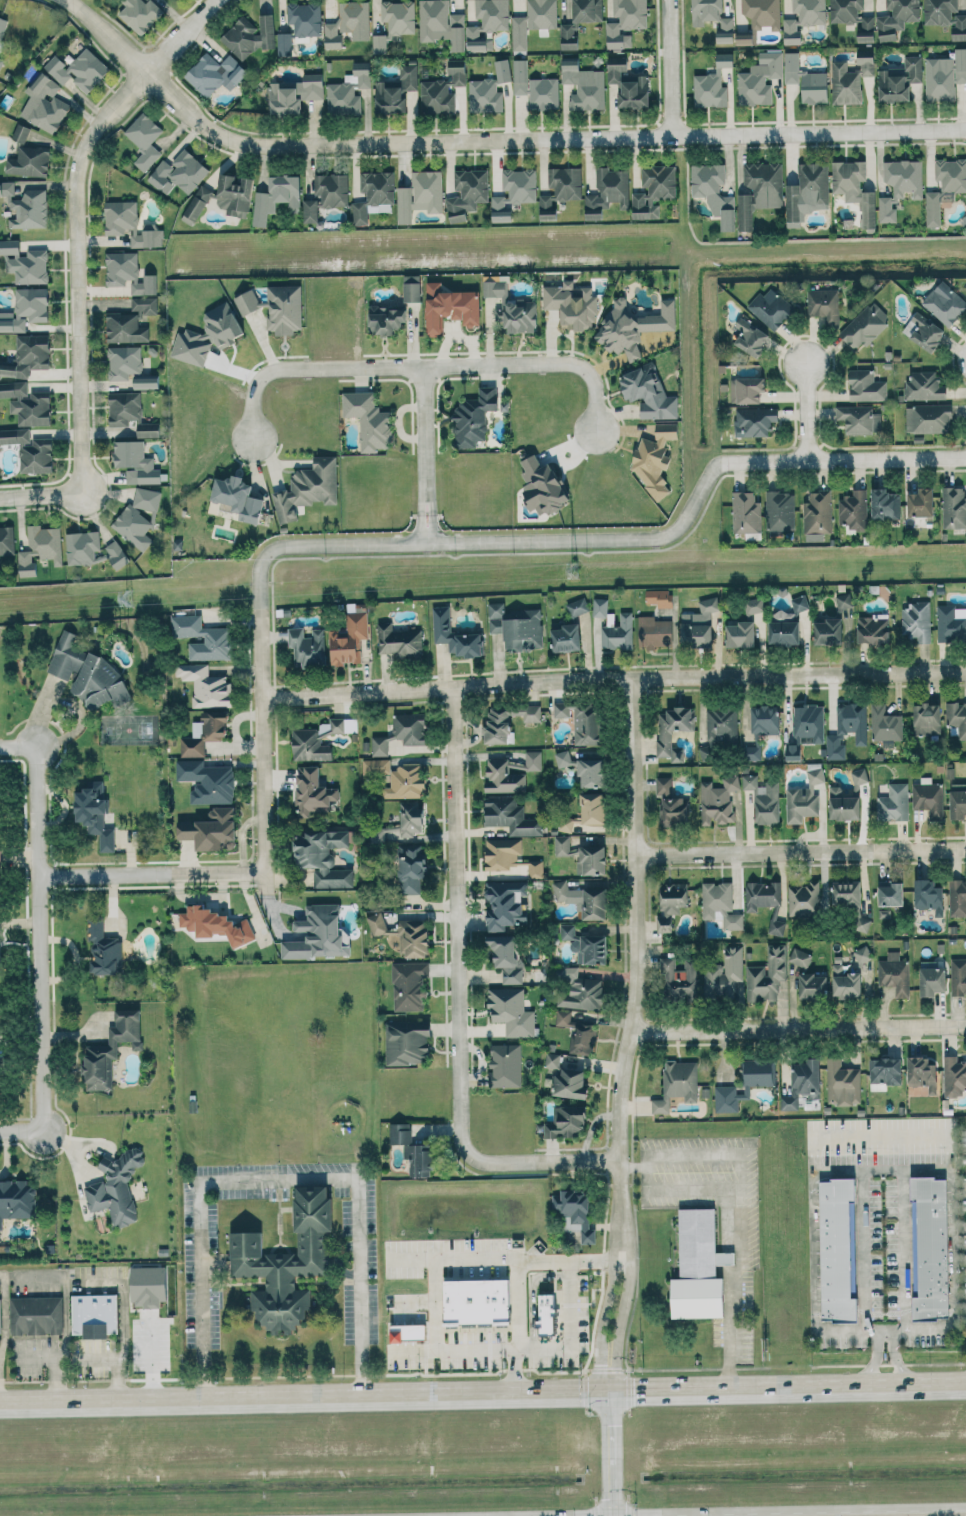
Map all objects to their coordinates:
building: (173, 0)
building: (587, 10)
building: (762, 13)
building: (140, 14)
building: (945, 16)
building: (853, 17)
building: (896, 17)
building: (304, 18)
building: (712, 18)
building: (802, 18)
building: (533, 21)
building: (625, 21)
building: (347, 22)
building: (395, 22)
building: (487, 22)
building: (440, 23)
building: (2, 26)
building: (249, 36)
building: (568, 36)
building: (744, 38)
building: (284, 43)
building: (1, 60)
road: (671, 67)
building: (791, 67)
building: (78, 70)
building: (502, 70)
building: (215, 73)
building: (520, 76)
building: (944, 76)
building: (760, 79)
building: (849, 80)
building: (899, 80)
building: (628, 84)
building: (712, 84)
building: (584, 85)
building: (814, 87)
building: (348, 90)
building: (396, 90)
building: (441, 91)
building: (294, 93)
building: (543, 93)
building: (484, 96)
building: (44, 104)
building: (21, 133)
road: (491, 138)
building: (144, 139)
building: (29, 162)
building: (951, 174)
building: (899, 185)
building: (853, 187)
building: (560, 189)
building: (427, 190)
building: (654, 190)
building: (759, 190)
building: (807, 191)
building: (514, 192)
building: (607, 192)
building: (713, 192)
building: (467, 193)
building: (234, 194)
building: (327, 194)
building: (373, 194)
building: (275, 197)
building: (196, 204)
building: (403, 205)
building: (26, 206)
building: (932, 208)
building: (129, 224)
building: (24, 262)
road: (78, 262)
building: (128, 272)
building: (411, 288)
building: (247, 301)
building: (945, 302)
building: (571, 305)
building: (824, 305)
building: (450, 307)
building: (512, 308)
building: (771, 308)
building: (25, 309)
building: (284, 309)
building: (385, 320)
building: (130, 321)
building: (633, 325)
building: (865, 325)
building: (923, 331)
building: (208, 335)
building: (751, 337)
building: (27, 356)
building: (123, 362)
road: (423, 366)
building: (146, 381)
building: (865, 386)
building: (924, 386)
building: (746, 389)
building: (648, 393)
building: (27, 403)
road: (806, 409)
building: (129, 414)
building: (474, 417)
building: (928, 418)
building: (859, 419)
building: (368, 420)
building: (754, 421)
building: (29, 450)
road: (424, 455)
building: (135, 462)
building: (542, 486)
building: (308, 488)
building: (238, 498)
building: (920, 503)
building: (885, 504)
building: (954, 507)
building: (853, 510)
building: (746, 512)
building: (779, 512)
building: (817, 512)
building: (138, 517)
building: (6, 540)
road: (473, 542)
building: (40, 548)
building: (90, 549)
power tower: (574, 568)
power tower: (130, 597)
building: (660, 597)
building: (844, 601)
building: (799, 603)
building: (708, 605)
building: (754, 605)
building: (577, 607)
building: (600, 607)
building: (916, 621)
building: (951, 623)
building: (516, 626)
building: (783, 628)
building: (873, 629)
building: (828, 631)
building: (654, 632)
building: (618, 633)
building: (696, 634)
building: (740, 634)
building: (454, 635)
building: (565, 637)
building: (217, 639)
building: (349, 639)
building: (399, 641)
building: (307, 647)
building: (88, 673)
road: (613, 678)
building: (206, 685)
building: (956, 717)
building: (926, 718)
building: (582, 720)
building: (852, 720)
building: (507, 721)
building: (885, 723)
building: (808, 724)
building: (722, 727)
building: (760, 729)
building: (672, 731)
building: (401, 732)
building: (204, 733)
building: (319, 739)
building: (834, 747)
building: (376, 766)
building: (583, 769)
building: (511, 772)
building: (859, 775)
building: (207, 781)
building: (405, 782)
building: (315, 792)
building: (804, 798)
building: (763, 799)
building: (928, 799)
building: (718, 800)
building: (670, 802)
building: (893, 803)
building: (843, 804)
building: (957, 804)
building: (592, 808)
building: (94, 813)
building: (510, 816)
building: (410, 818)
building: (565, 824)
building: (210, 830)
road: (426, 846)
road: (800, 851)
building: (501, 852)
building: (0, 856)
building: (323, 856)
building: (582, 856)
building: (410, 869)
building: (535, 869)
road: (150, 876)
building: (890, 893)
building: (846, 894)
building: (762, 895)
building: (929, 896)
building: (957, 897)
building: (716, 898)
building: (583, 899)
building: (805, 899)
building: (670, 903)
building: (506, 904)
building: (733, 920)
road: (454, 921)
building: (861, 923)
building: (215, 924)
building: (776, 927)
building: (318, 933)
building: (403, 934)
road: (41, 944)
building: (585, 945)
building: (104, 948)
building: (862, 953)
building: (800, 957)
building: (506, 958)
building: (724, 973)
building: (894, 974)
building: (767, 975)
building: (958, 976)
building: (680, 980)
building: (932, 981)
building: (845, 983)
building: (409, 985)
building: (812, 985)
building: (579, 990)
building: (511, 1011)
road: (798, 1028)
building: (578, 1033)
building: (407, 1042)
building: (111, 1049)
building: (552, 1060)
building: (505, 1065)
building: (885, 1070)
building: (922, 1073)
building: (954, 1076)
building: (802, 1082)
building: (569, 1083)
building: (842, 1083)
building: (677, 1084)
building: (744, 1084)
road: (619, 1096)
building: (566, 1121)
building: (413, 1150)
road: (540, 1162)
road: (634, 1167)
road: (277, 1179)
building: (115, 1188)
road: (752, 1188)
building: (16, 1200)
building: (574, 1212)
road: (278, 1216)
parking lot: (960, 1217)
road: (866, 1238)
building: (696, 1244)
building: (927, 1246)
building: (836, 1249)
road: (902, 1257)
building: (286, 1263)
road: (512, 1271)
building: (148, 1286)
road: (733, 1289)
building: (699, 1298)
building: (476, 1301)
road: (429, 1306)
building: (546, 1314)
building: (36, 1315)
building: (95, 1315)
building: (0, 1316)
building: (408, 1332)
road: (568, 1333)
road: (873, 1358)
road: (897, 1358)
road: (482, 1390)
road: (942, 1515)

